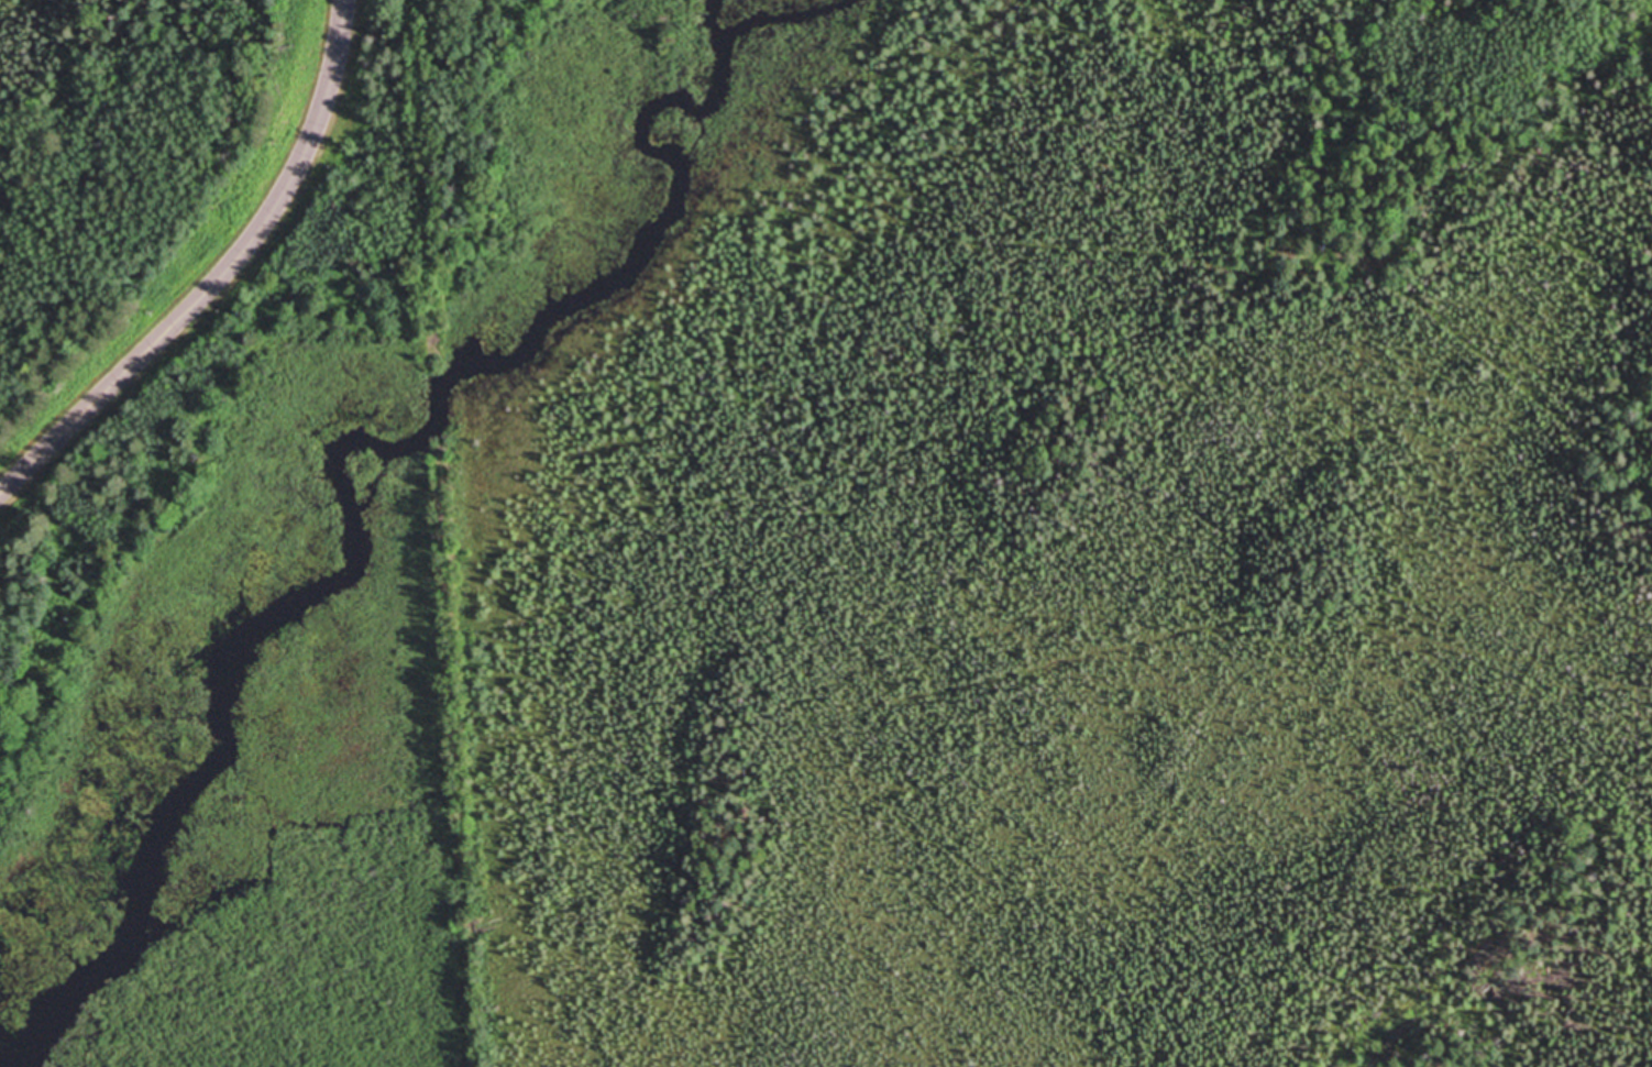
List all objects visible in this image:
road: (421, 155)
road: (219, 277)
river: (338, 450)
road: (460, 766)

